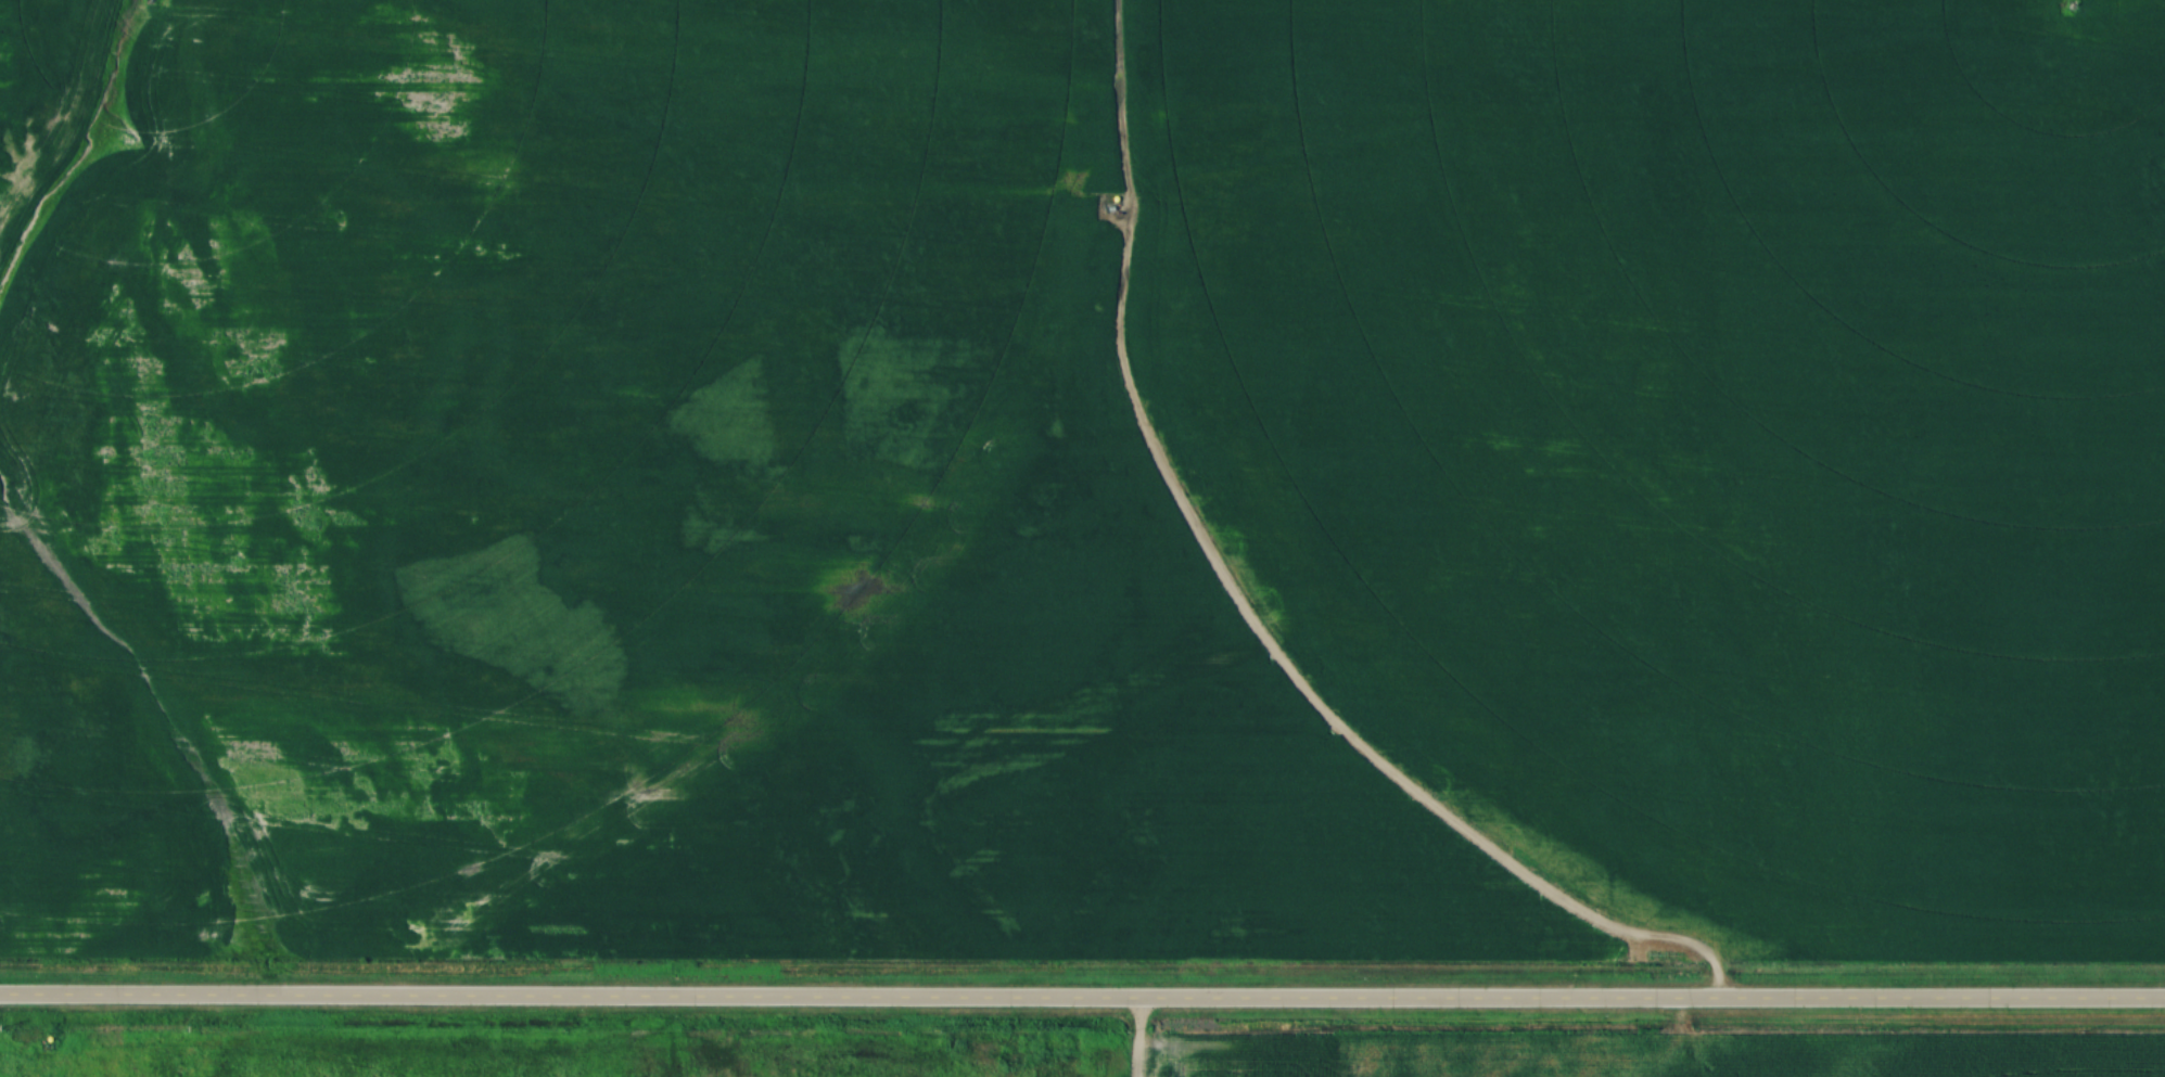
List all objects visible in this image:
road: (1082, 1008)

